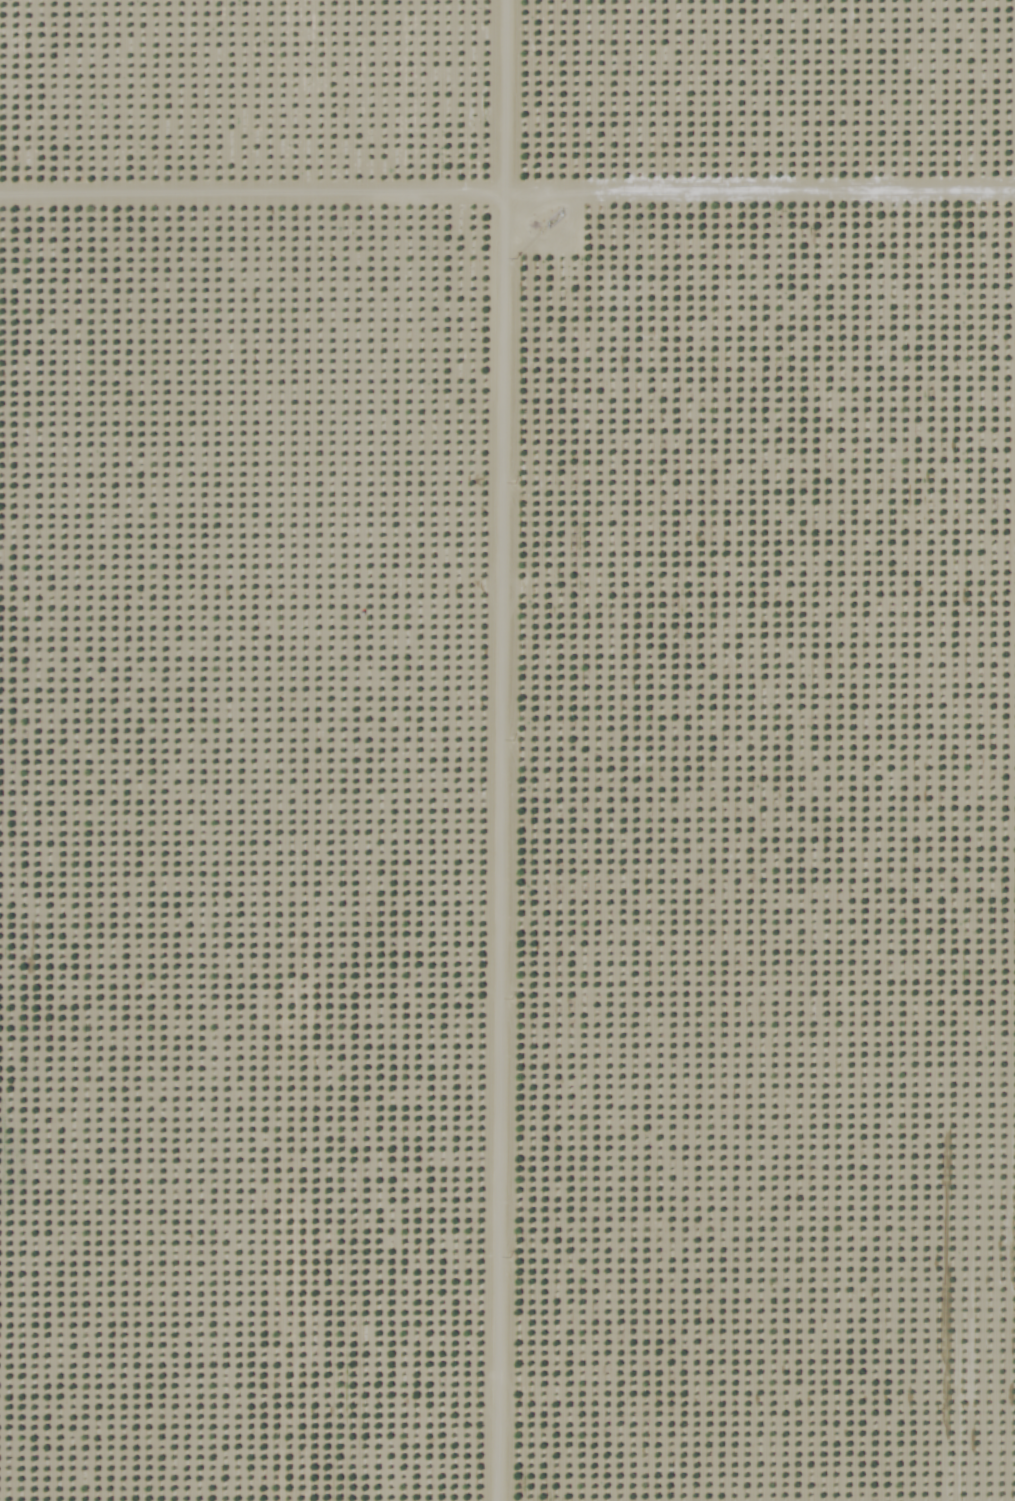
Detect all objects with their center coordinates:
road: (4, 396)
crop: (507, 750)

